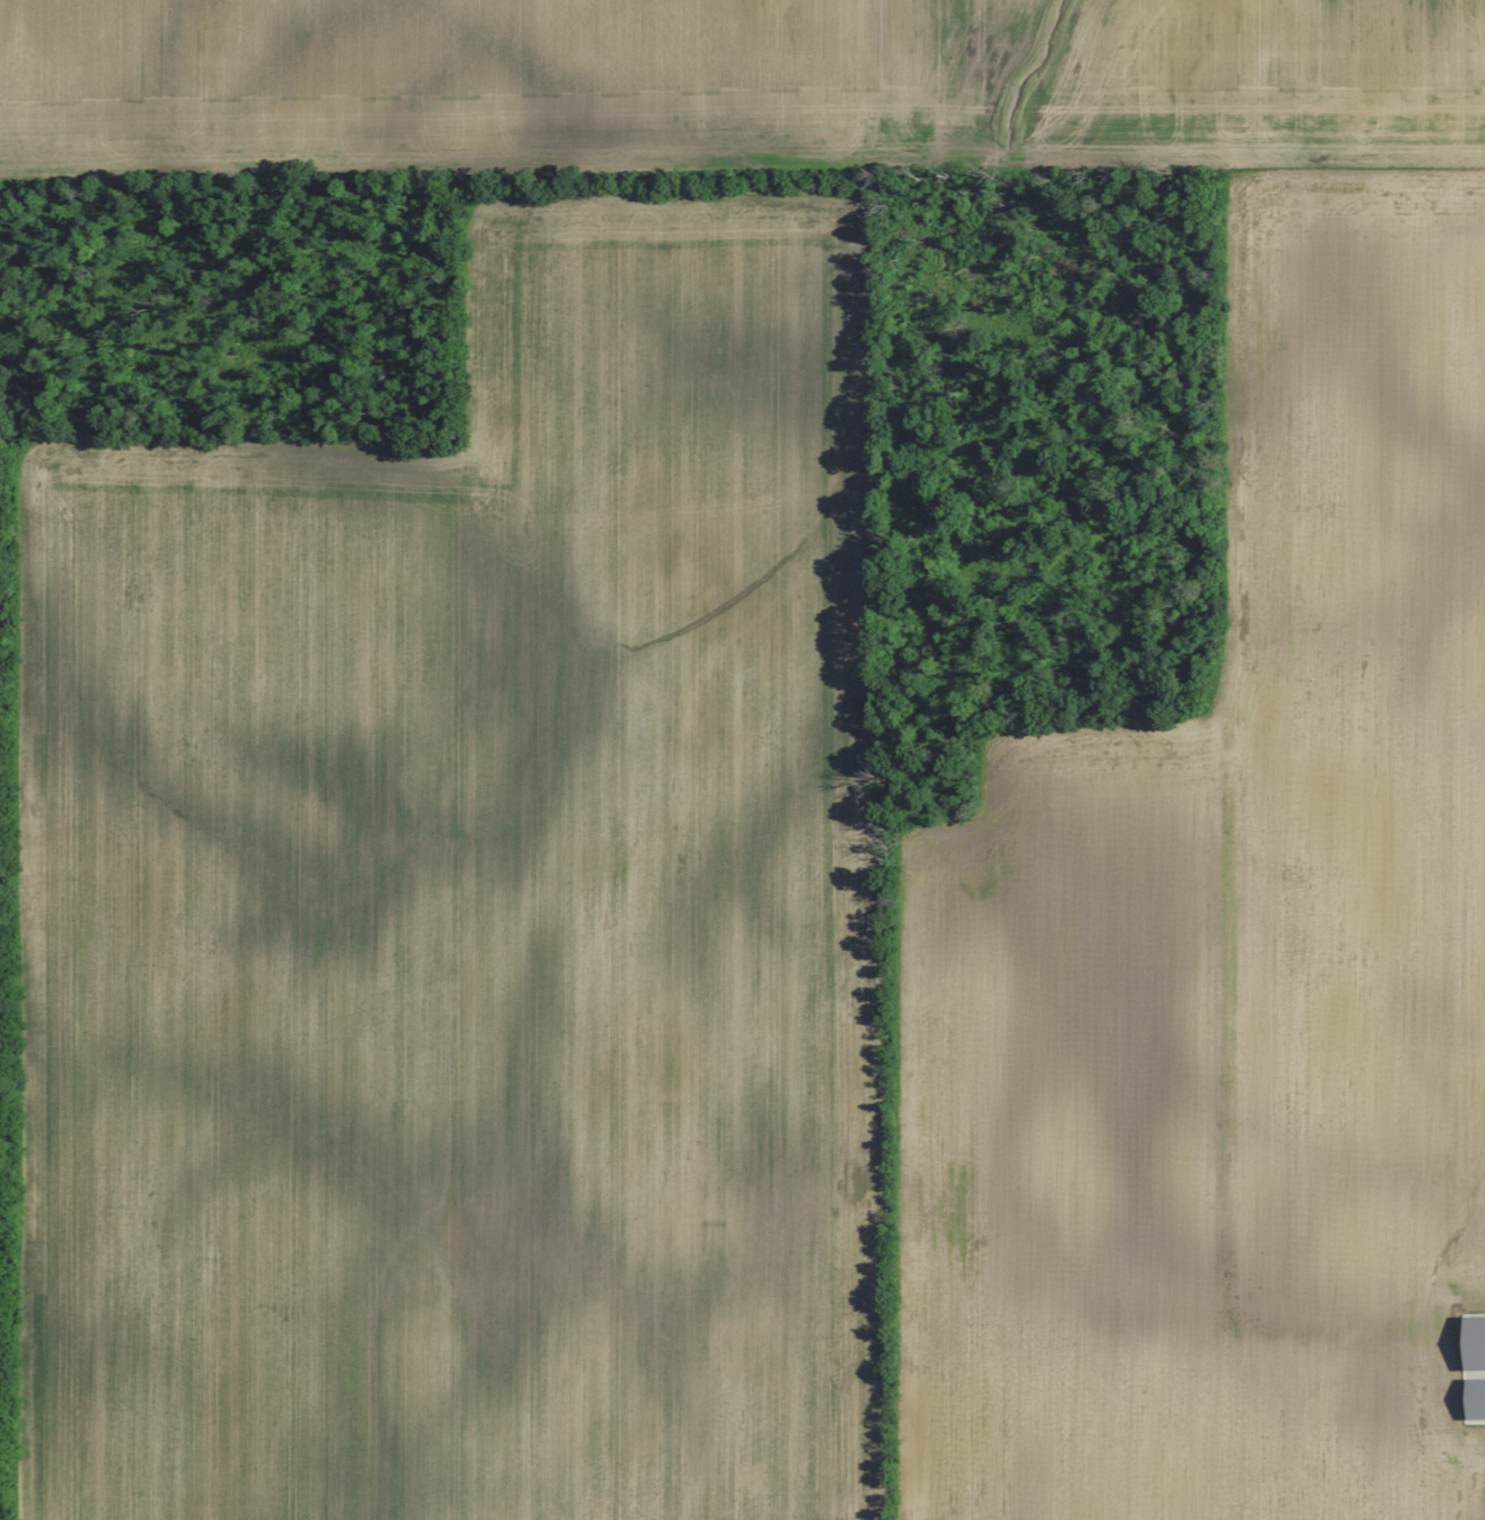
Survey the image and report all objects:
building: (1478, 1345)
building: (1480, 1399)

